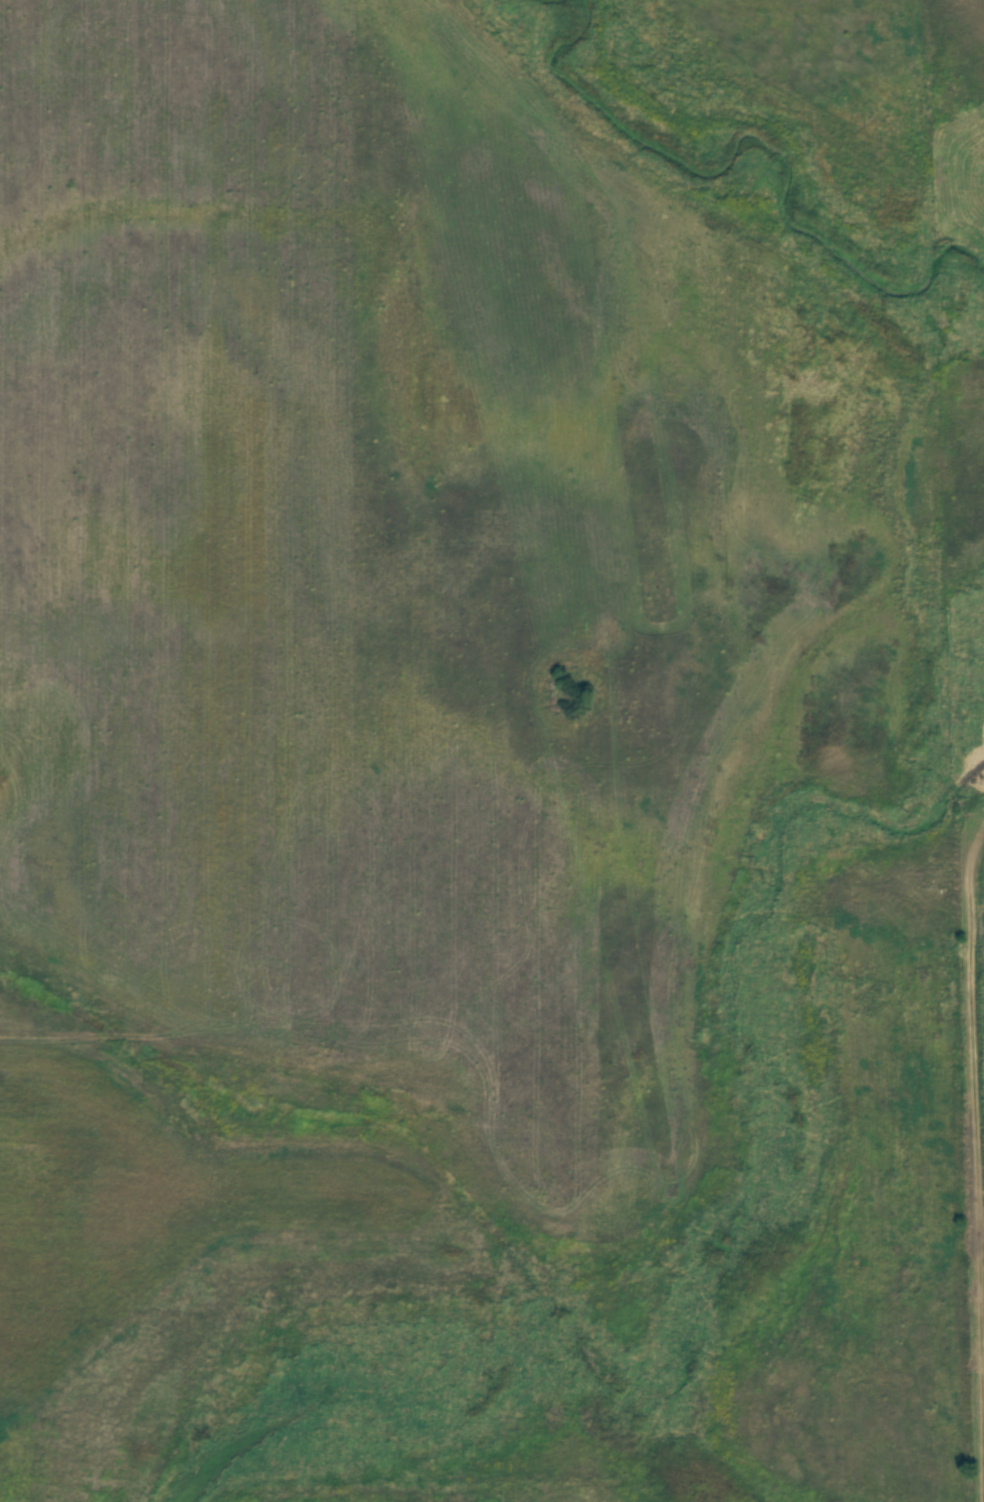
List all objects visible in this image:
road: (297, 1060)

